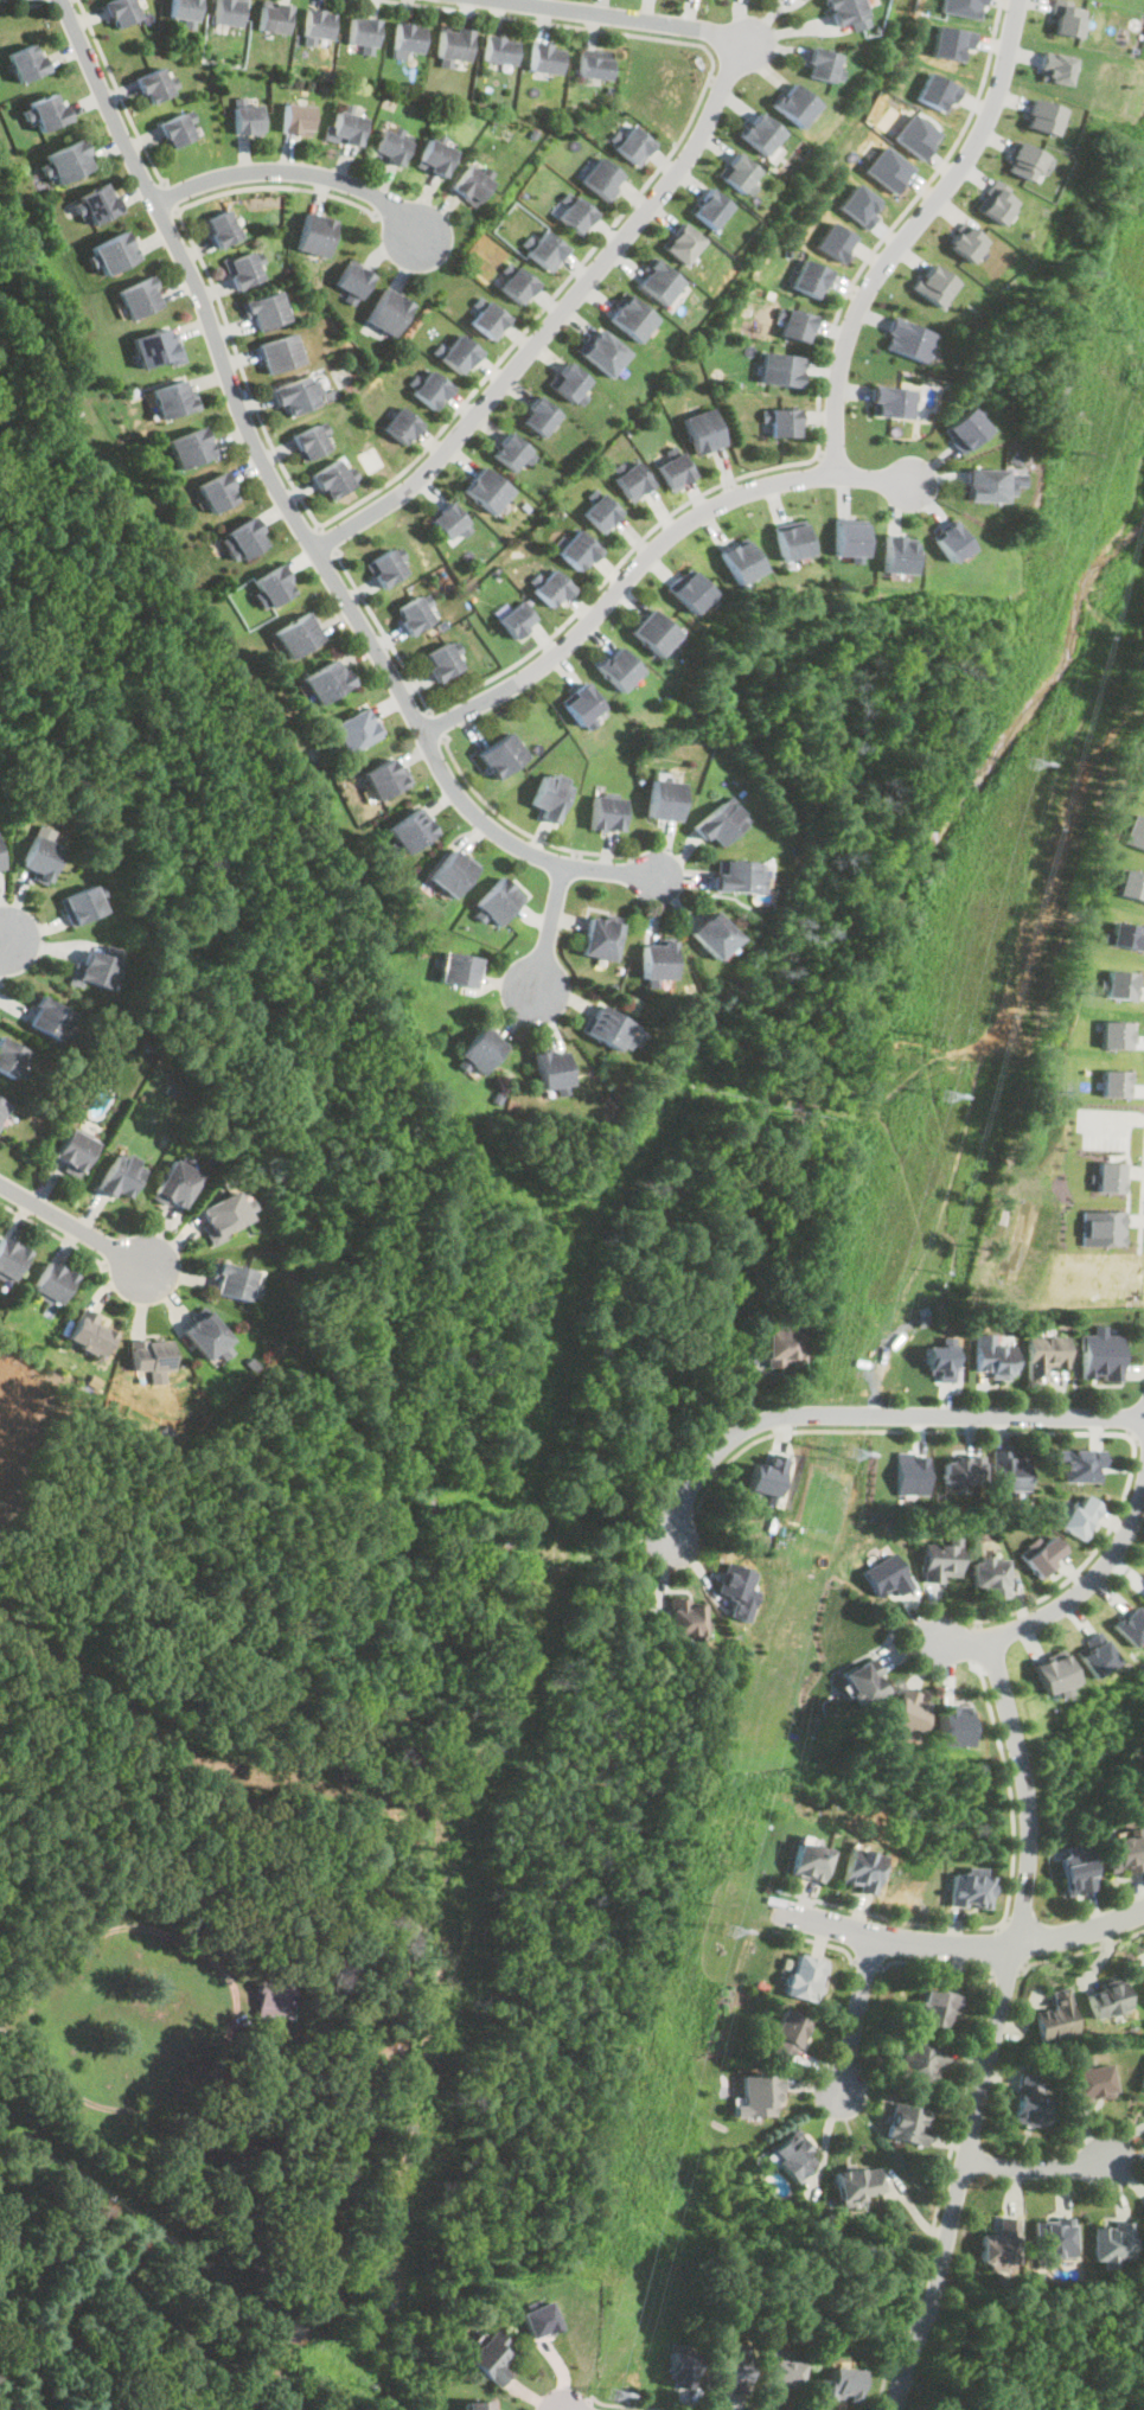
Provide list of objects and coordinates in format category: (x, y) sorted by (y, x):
road: (56, 1)
road: (30, 4)
building: (961, 7)
building: (183, 8)
building: (121, 9)
building: (226, 12)
building: (848, 12)
building: (274, 15)
building: (1065, 17)
building: (319, 23)
building: (364, 30)
building: (409, 36)
building: (953, 40)
building: (453, 41)
building: (499, 49)
building: (544, 56)
building: (24, 60)
building: (820, 63)
building: (592, 66)
building: (1054, 66)
building: (153, 84)
building: (939, 90)
road: (120, 92)
building: (794, 103)
building: (46, 110)
building: (1042, 115)
building: (247, 117)
building: (298, 117)
building: (347, 126)
building: (175, 129)
building: (760, 133)
building: (915, 134)
building: (392, 145)
building: (629, 145)
building: (435, 156)
building: (1022, 158)
building: (65, 160)
building: (888, 167)
road: (295, 168)
building: (737, 172)
building: (597, 177)
road: (277, 184)
building: (471, 184)
road: (638, 188)
road: (170, 196)
building: (996, 202)
building: (96, 203)
building: (862, 204)
building: (709, 207)
building: (573, 213)
road: (895, 220)
building: (222, 228)
road: (627, 228)
road: (908, 232)
building: (315, 234)
building: (837, 241)
building: (679, 242)
building: (966, 242)
building: (544, 249)
building: (111, 251)
building: (243, 269)
building: (811, 277)
building: (352, 280)
building: (656, 280)
building: (516, 283)
building: (933, 285)
building: (138, 296)
building: (264, 308)
building: (386, 311)
building: (628, 317)
building: (486, 319)
building: (797, 324)
building: (909, 338)
power tower: (1142, 338)
building: (155, 347)
building: (600, 351)
building: (280, 353)
building: (458, 353)
road: (243, 369)
building: (781, 369)
building: (565, 381)
building: (430, 389)
building: (296, 394)
building: (172, 398)
building: (890, 399)
building: (537, 416)
building: (784, 421)
building: (400, 424)
building: (965, 428)
building: (704, 430)
building: (309, 442)
building: (188, 447)
building: (509, 452)
power tower: (1073, 452)
building: (675, 471)
building: (331, 479)
building: (632, 480)
building: (985, 484)
building: (485, 490)
building: (216, 492)
building: (599, 512)
road: (292, 514)
building: (448, 520)
building: (848, 536)
building: (245, 538)
building: (791, 538)
road: (326, 539)
building: (952, 539)
building: (576, 550)
building: (897, 552)
road: (645, 557)
building: (740, 558)
road: (615, 565)
building: (384, 568)
building: (271, 586)
building: (551, 588)
building: (691, 589)
building: (413, 614)
building: (513, 620)
road: (382, 631)
building: (653, 632)
building: (295, 634)
building: (441, 660)
building: (618, 667)
building: (325, 680)
building: (581, 703)
road: (435, 723)
building: (353, 730)
building: (500, 755)
power tower: (1030, 760)
building: (384, 778)
building: (549, 795)
building: (665, 799)
building: (607, 813)
building: (721, 823)
road: (519, 827)
building: (410, 830)
building: (1135, 831)
building: (391, 849)
building: (39, 858)
building: (0, 864)
building: (450, 872)
building: (736, 876)
building: (1131, 883)
building: (497, 901)
building: (78, 904)
road: (547, 932)
building: (1121, 934)
building: (712, 936)
building: (600, 939)
road: (1, 942)
building: (657, 960)
building: (94, 969)
building: (456, 970)
building: (1117, 983)
building: (46, 1017)
building: (606, 1028)
power tower: (923, 1030)
building: (1114, 1033)
building: (480, 1049)
building: (9, 1057)
building: (552, 1069)
building: (1113, 1081)
power tower: (944, 1097)
building: (1, 1106)
building: (72, 1149)
building: (1110, 1172)
building: (119, 1174)
building: (174, 1182)
road: (1142, 1201)
building: (222, 1213)
building: (1103, 1226)
road: (72, 1227)
road: (55, 1233)
building: (9, 1257)
building: (231, 1279)
building: (52, 1281)
building: (90, 1331)
building: (206, 1332)
building: (784, 1345)
building: (151, 1353)
building: (1100, 1353)
building: (993, 1354)
building: (1044, 1354)
building: (940, 1359)
road: (870, 1414)
road: (1028, 1431)
power tower: (855, 1455)
power tower: (819, 1459)
building: (1079, 1463)
building: (961, 1468)
building: (1006, 1470)
building: (912, 1472)
building: (768, 1475)
road: (683, 1503)
building: (1078, 1515)
building: (1038, 1554)
building: (940, 1558)
building: (990, 1573)
building: (887, 1574)
building: (741, 1590)
road: (1066, 1599)
building: (686, 1616)
building: (1130, 1624)
road: (977, 1644)
building: (1095, 1653)
building: (1053, 1671)
building: (861, 1681)
building: (906, 1714)
building: (953, 1725)
building: (1123, 1852)
building: (807, 1860)
building: (858, 1868)
building: (1078, 1871)
building: (967, 1888)
power tower: (703, 1894)
road: (1004, 1901)
power tower: (729, 1930)
road: (818, 1939)
road: (960, 1944)
road: (992, 1948)
road: (1081, 1950)
road: (867, 1961)
building: (1143, 1971)
road: (1004, 1973)
building: (804, 1976)
building: (274, 1997)
building: (1108, 1997)
building: (934, 2008)
road: (230, 2012)
road: (855, 2012)
building: (1055, 2016)
road: (992, 2028)
building: (786, 2034)
building: (921, 2061)
building: (1142, 2080)
building: (1091, 2083)
building: (758, 2095)
building: (1030, 2102)
building: (908, 2122)
road: (953, 2136)
building: (792, 2155)
road: (1034, 2167)
building: (858, 2182)
building: (1056, 2237)
building: (998, 2242)
building: (1112, 2243)
building: (539, 2319)
building: (491, 2357)
building: (683, 2367)
building: (730, 2367)
building: (781, 2374)
building: (837, 2385)
power tower: (611, 2396)
building: (474, 2405)
road: (625, 2405)

